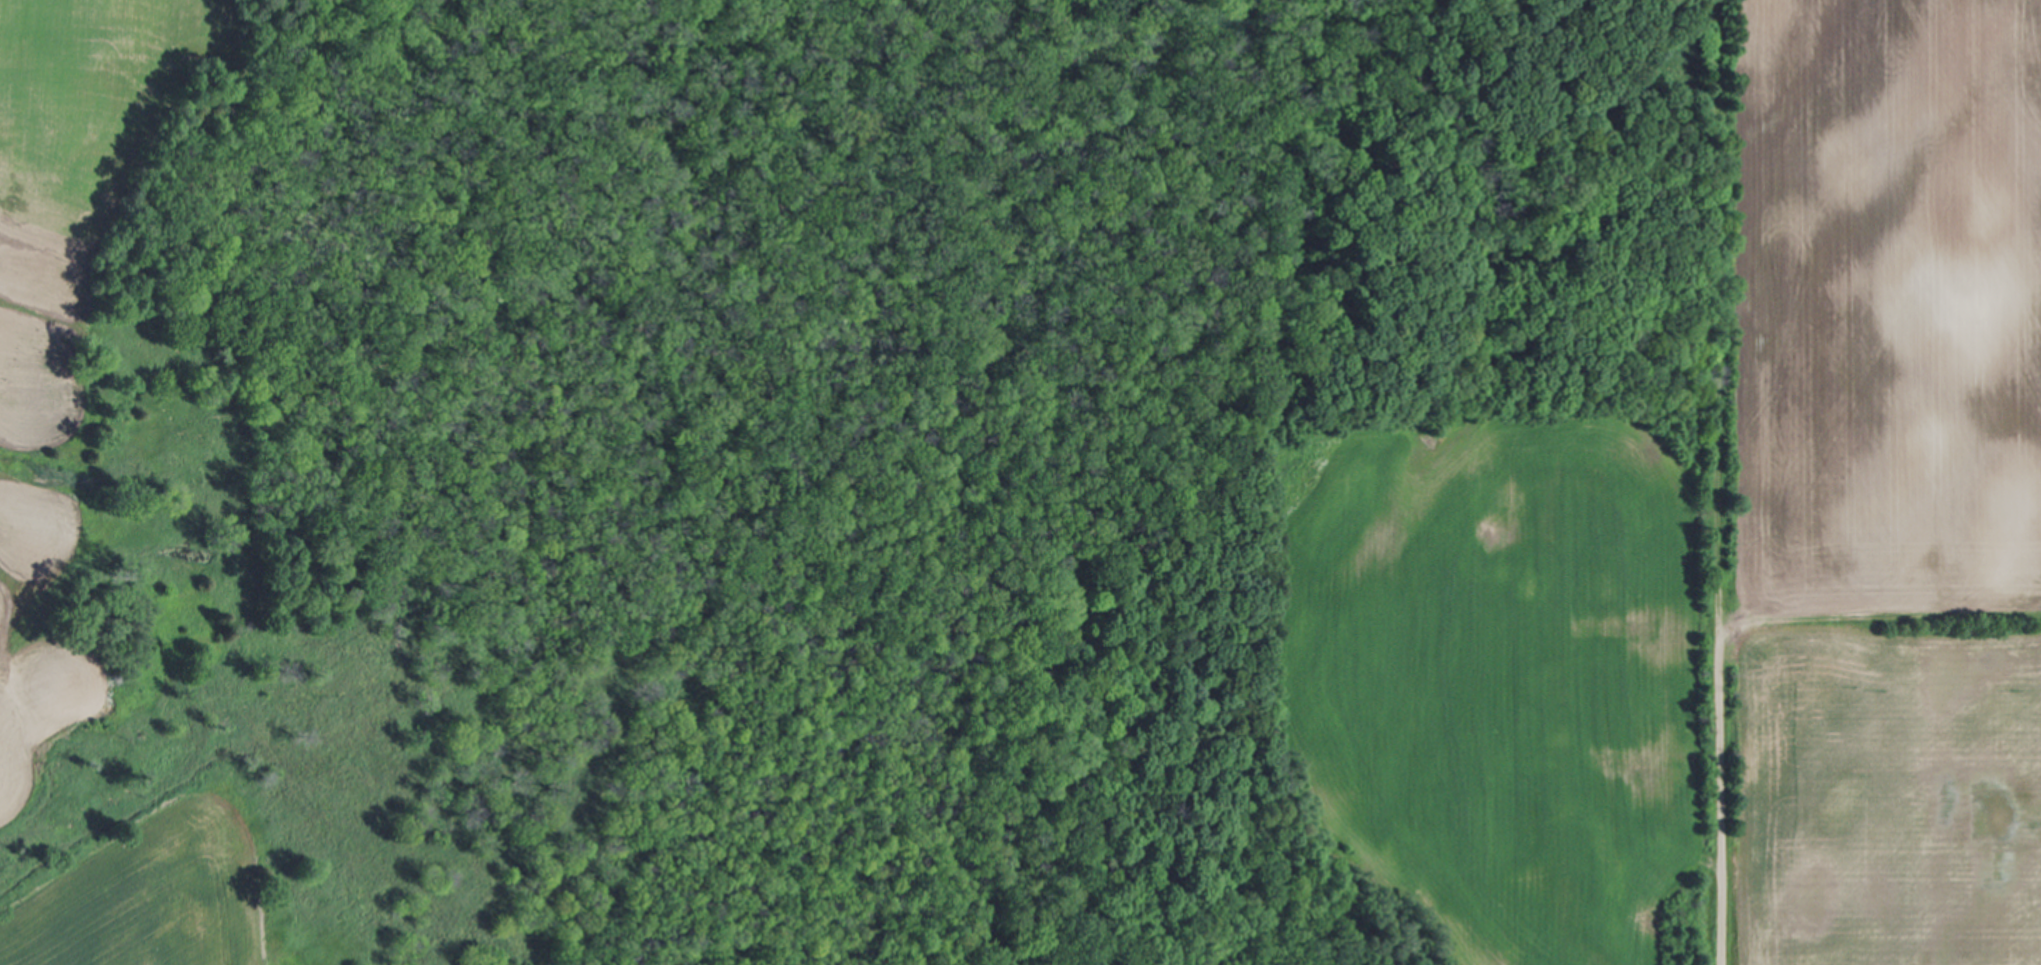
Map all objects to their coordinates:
road: (1719, 801)

